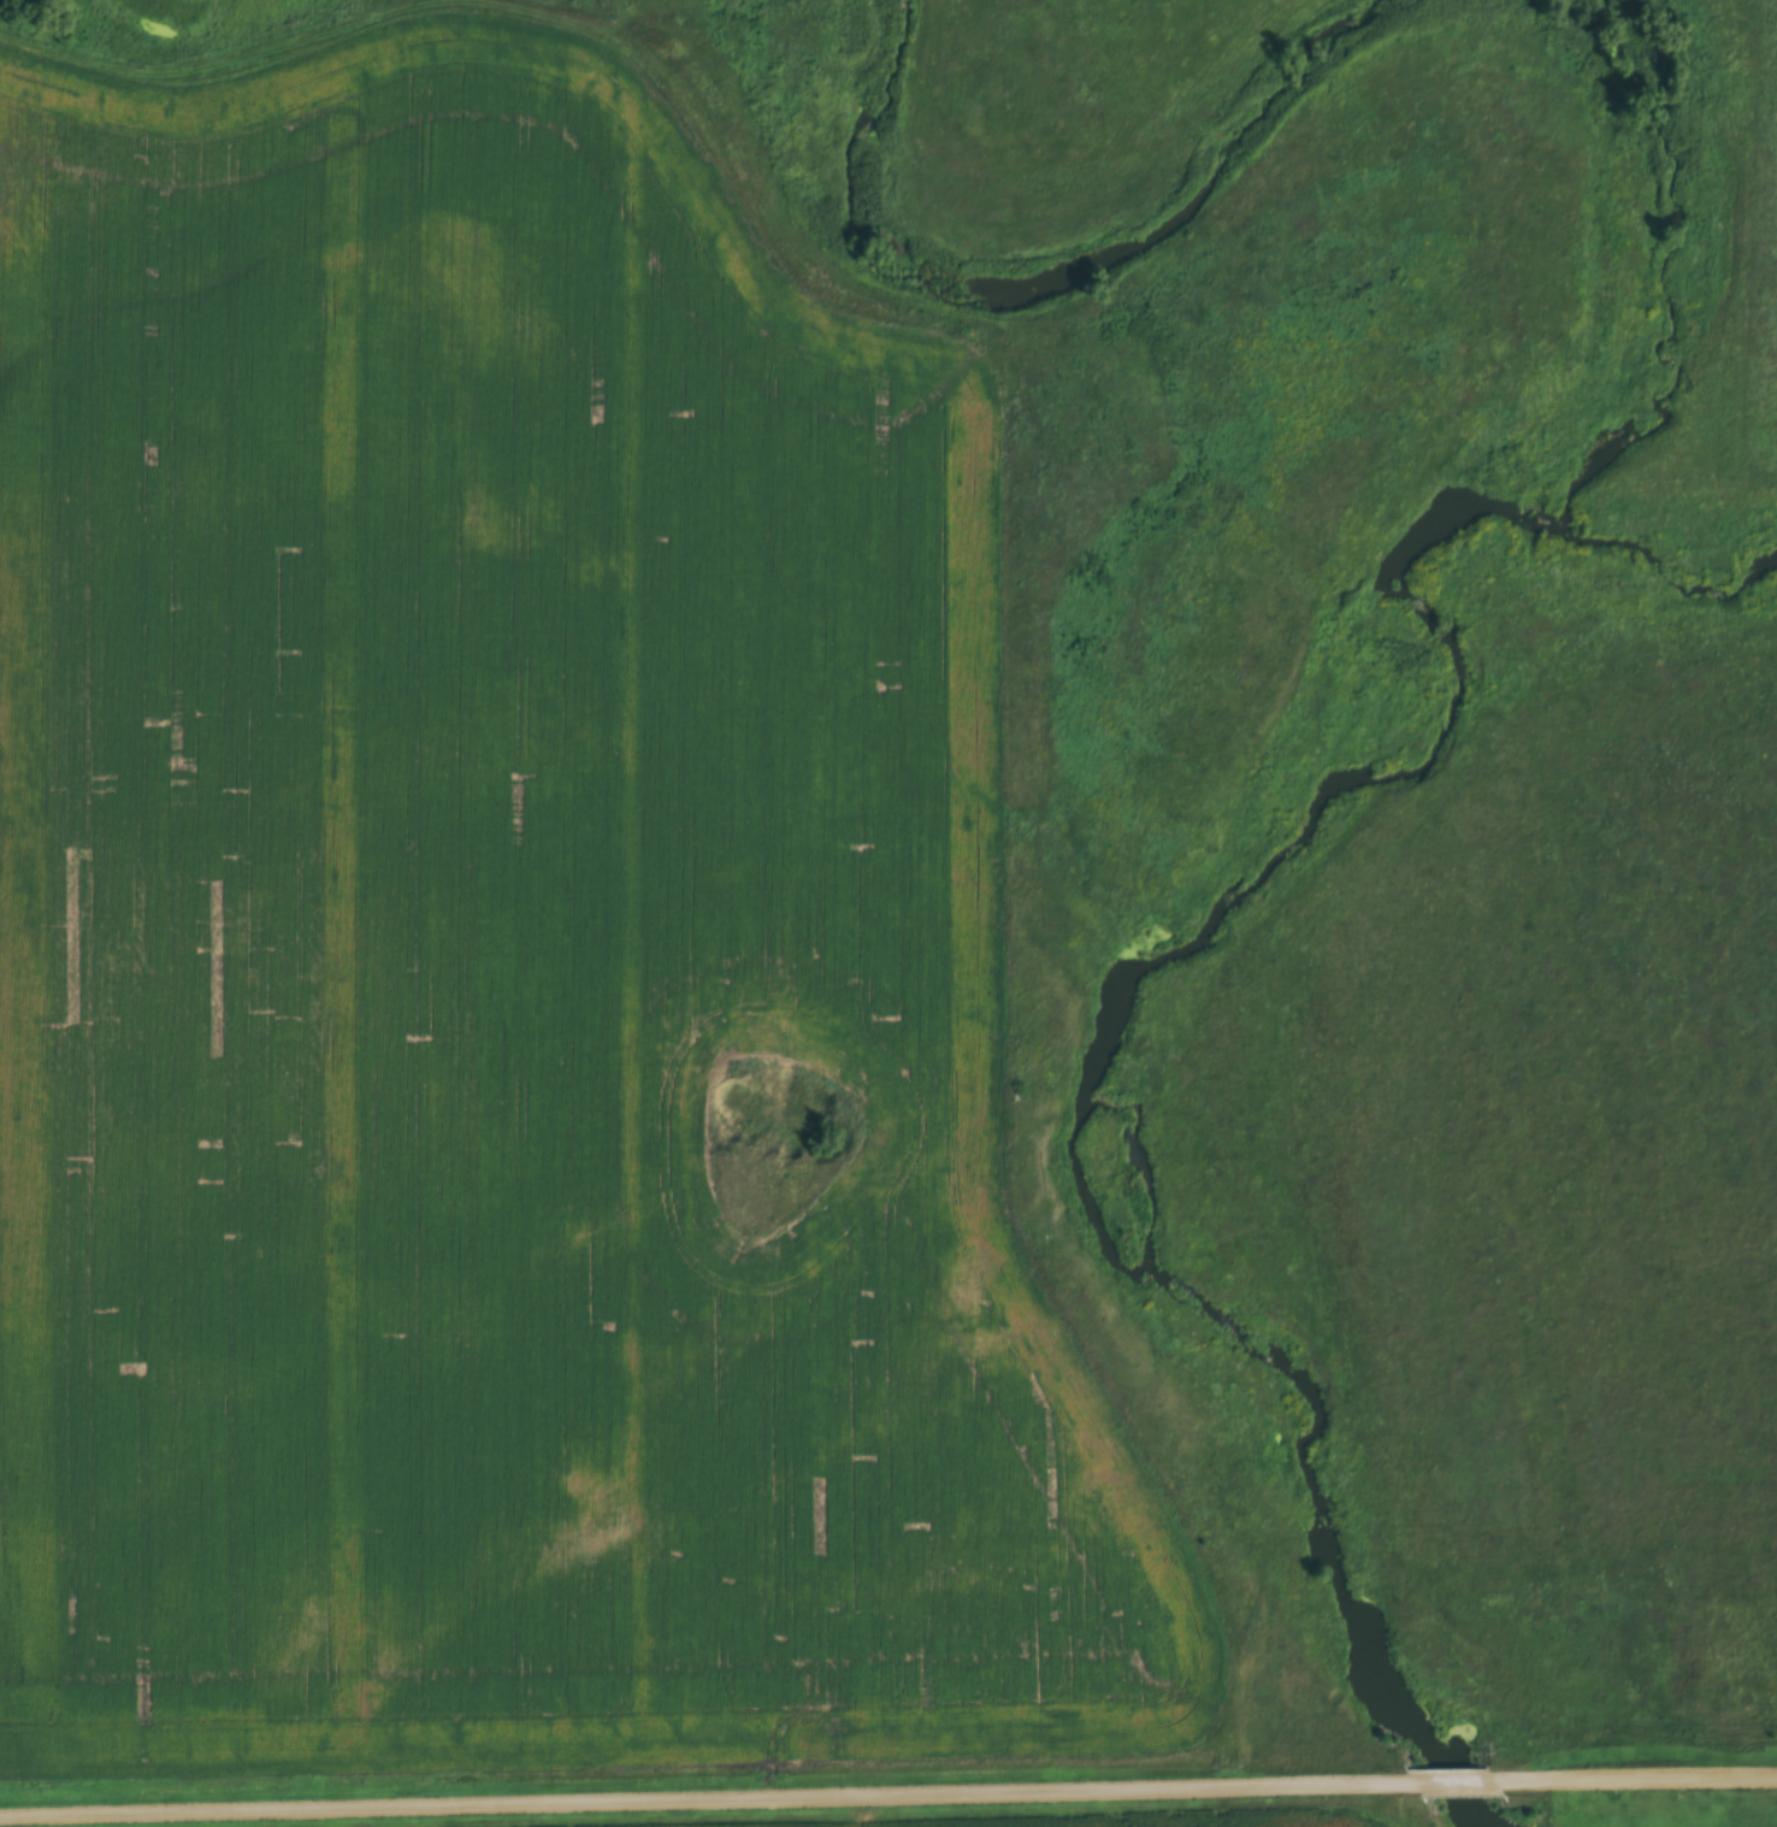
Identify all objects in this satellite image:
road: (889, 1802)

